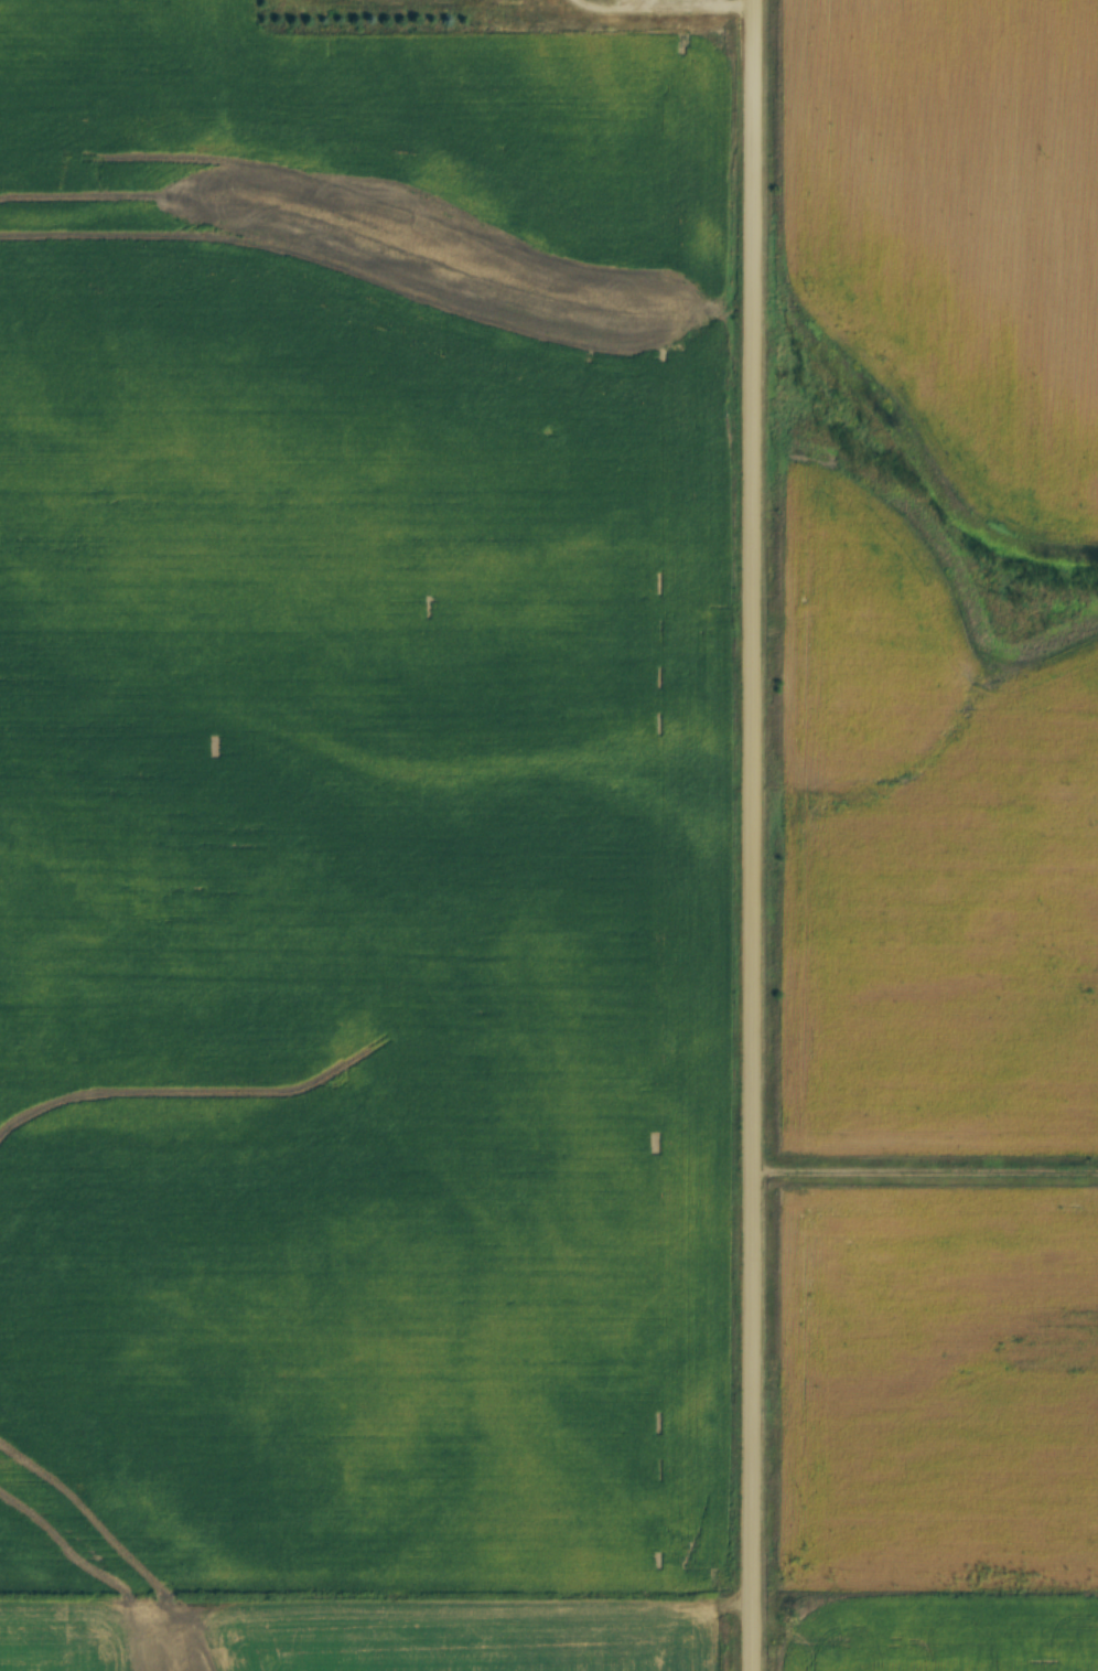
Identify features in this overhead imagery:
road: (760, 835)
road: (928, 1158)

